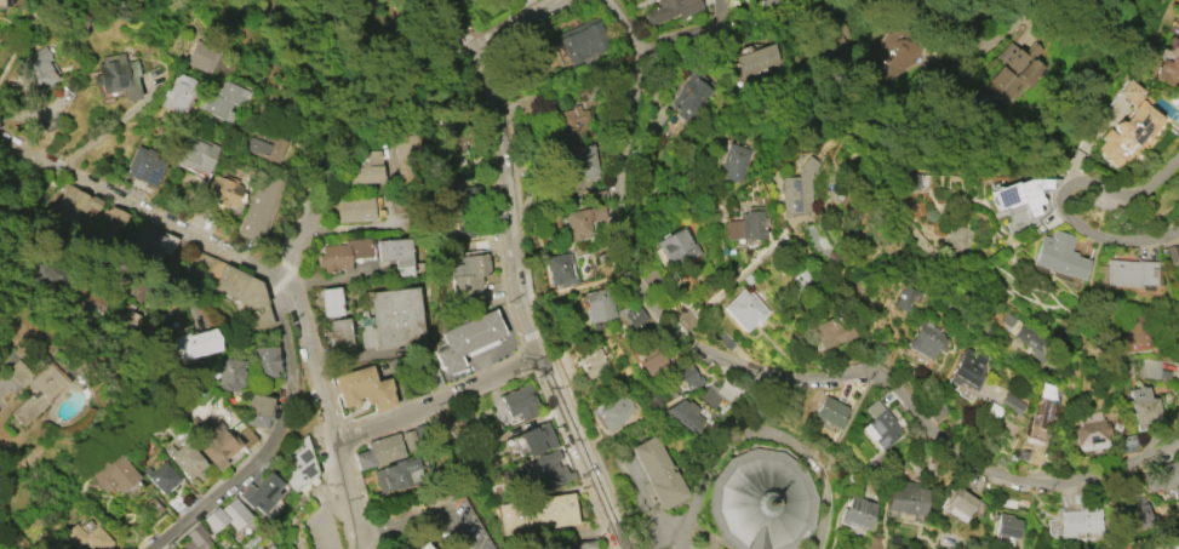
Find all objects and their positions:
building: (771, 1)
building: (0, 5)
building: (671, 11)
road: (725, 13)
road: (509, 21)
road: (726, 28)
road: (971, 29)
park: (370, 42)
building: (584, 46)
building: (202, 56)
building: (902, 57)
building: (756, 62)
building: (1168, 67)
building: (38, 69)
building: (1014, 70)
building: (116, 76)
road: (308, 78)
building: (178, 93)
building: (693, 96)
building: (223, 101)
road: (30, 113)
building: (1127, 125)
building: (572, 127)
road: (105, 130)
building: (264, 145)
building: (195, 153)
building: (408, 155)
building: (582, 162)
building: (733, 162)
building: (144, 166)
building: (365, 166)
building: (905, 182)
building: (797, 190)
building: (224, 191)
building: (1019, 194)
building: (464, 198)
road: (1042, 200)
building: (76, 202)
building: (258, 206)
building: (356, 210)
road: (142, 211)
building: (113, 222)
road: (305, 222)
building: (579, 223)
building: (464, 225)
building: (748, 225)
building: (153, 242)
building: (673, 251)
building: (342, 256)
building: (395, 256)
building: (1059, 258)
building: (560, 271)
building: (1129, 273)
building: (468, 279)
road: (514, 279)
building: (245, 297)
building: (88, 299)
building: (908, 301)
building: (330, 302)
building: (599, 305)
building: (743, 310)
building: (124, 319)
building: (634, 319)
building: (390, 320)
building: (830, 331)
building: (339, 332)
building: (1135, 338)
building: (467, 341)
building: (926, 341)
building: (195, 343)
building: (652, 359)
building: (264, 361)
road: (311, 361)
building: (594, 364)
building: (969, 368)
building: (1149, 368)
road: (765, 371)
building: (229, 376)
building: (691, 376)
building: (35, 387)
building: (362, 389)
building: (716, 393)
road: (482, 394)
road: (437, 402)
building: (519, 402)
building: (1011, 405)
building: (1140, 405)
building: (1042, 407)
building: (256, 411)
building: (612, 411)
building: (831, 412)
building: (683, 416)
building: (880, 425)
road: (759, 433)
building: (1089, 434)
road: (270, 439)
building: (533, 440)
building: (222, 442)
building: (379, 452)
building: (184, 459)
building: (298, 465)
building: (551, 470)
building: (658, 473)
building: (114, 474)
building: (394, 475)
building: (160, 476)
building: (1162, 476)
road: (342, 488)
building: (261, 493)
building: (906, 498)
building: (760, 501)
building: (960, 504)
building: (153, 507)
building: (1132, 511)
building: (858, 513)
road: (418, 514)
building: (536, 514)
building: (225, 515)
road: (317, 515)
building: (1072, 524)
building: (1006, 526)
building: (88, 534)
building: (195, 538)
road: (357, 541)
building: (586, 544)
building: (422, 545)
building: (257, 547)
building: (269, 547)

